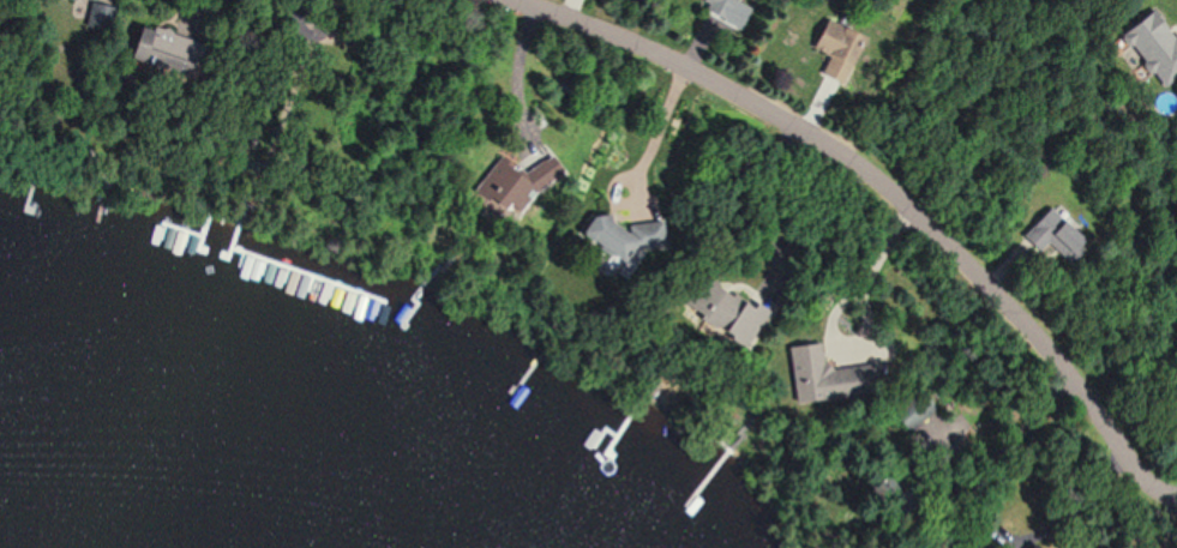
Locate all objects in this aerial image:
building: (70, 0)
building: (719, 5)
building: (828, 40)
building: (1152, 47)
road: (510, 80)
road: (234, 82)
building: (523, 186)
road: (887, 186)
building: (1049, 234)
building: (624, 240)
road: (835, 303)
building: (727, 315)
building: (815, 368)
road: (1080, 513)
building: (959, 547)

